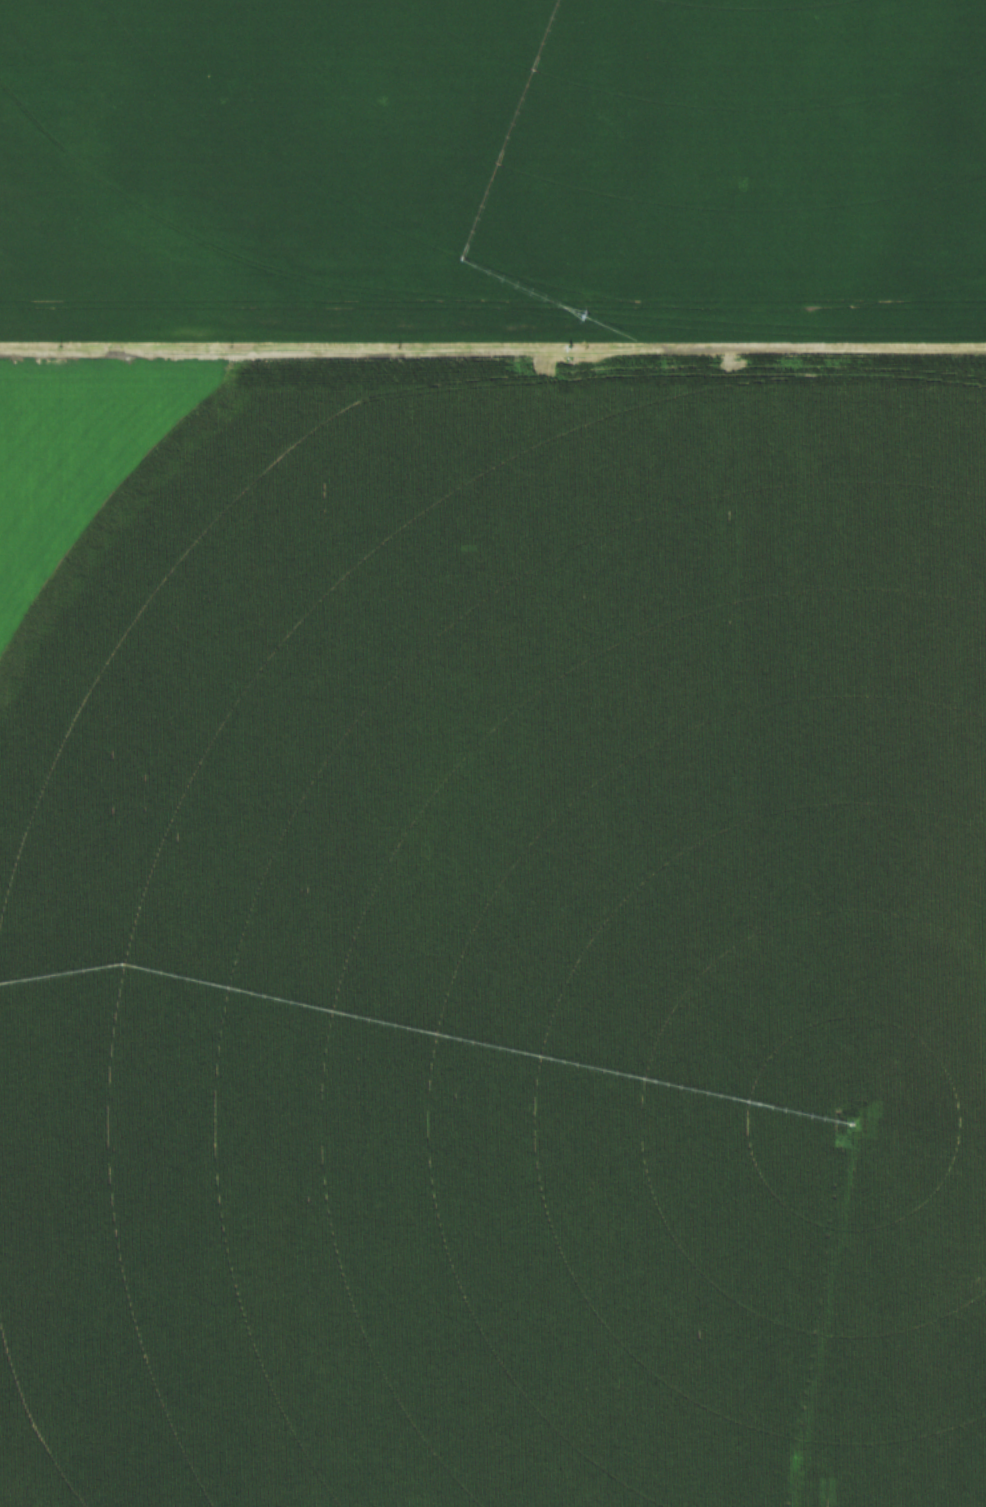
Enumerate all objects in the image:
road: (492, 354)
crop: (493, 753)

